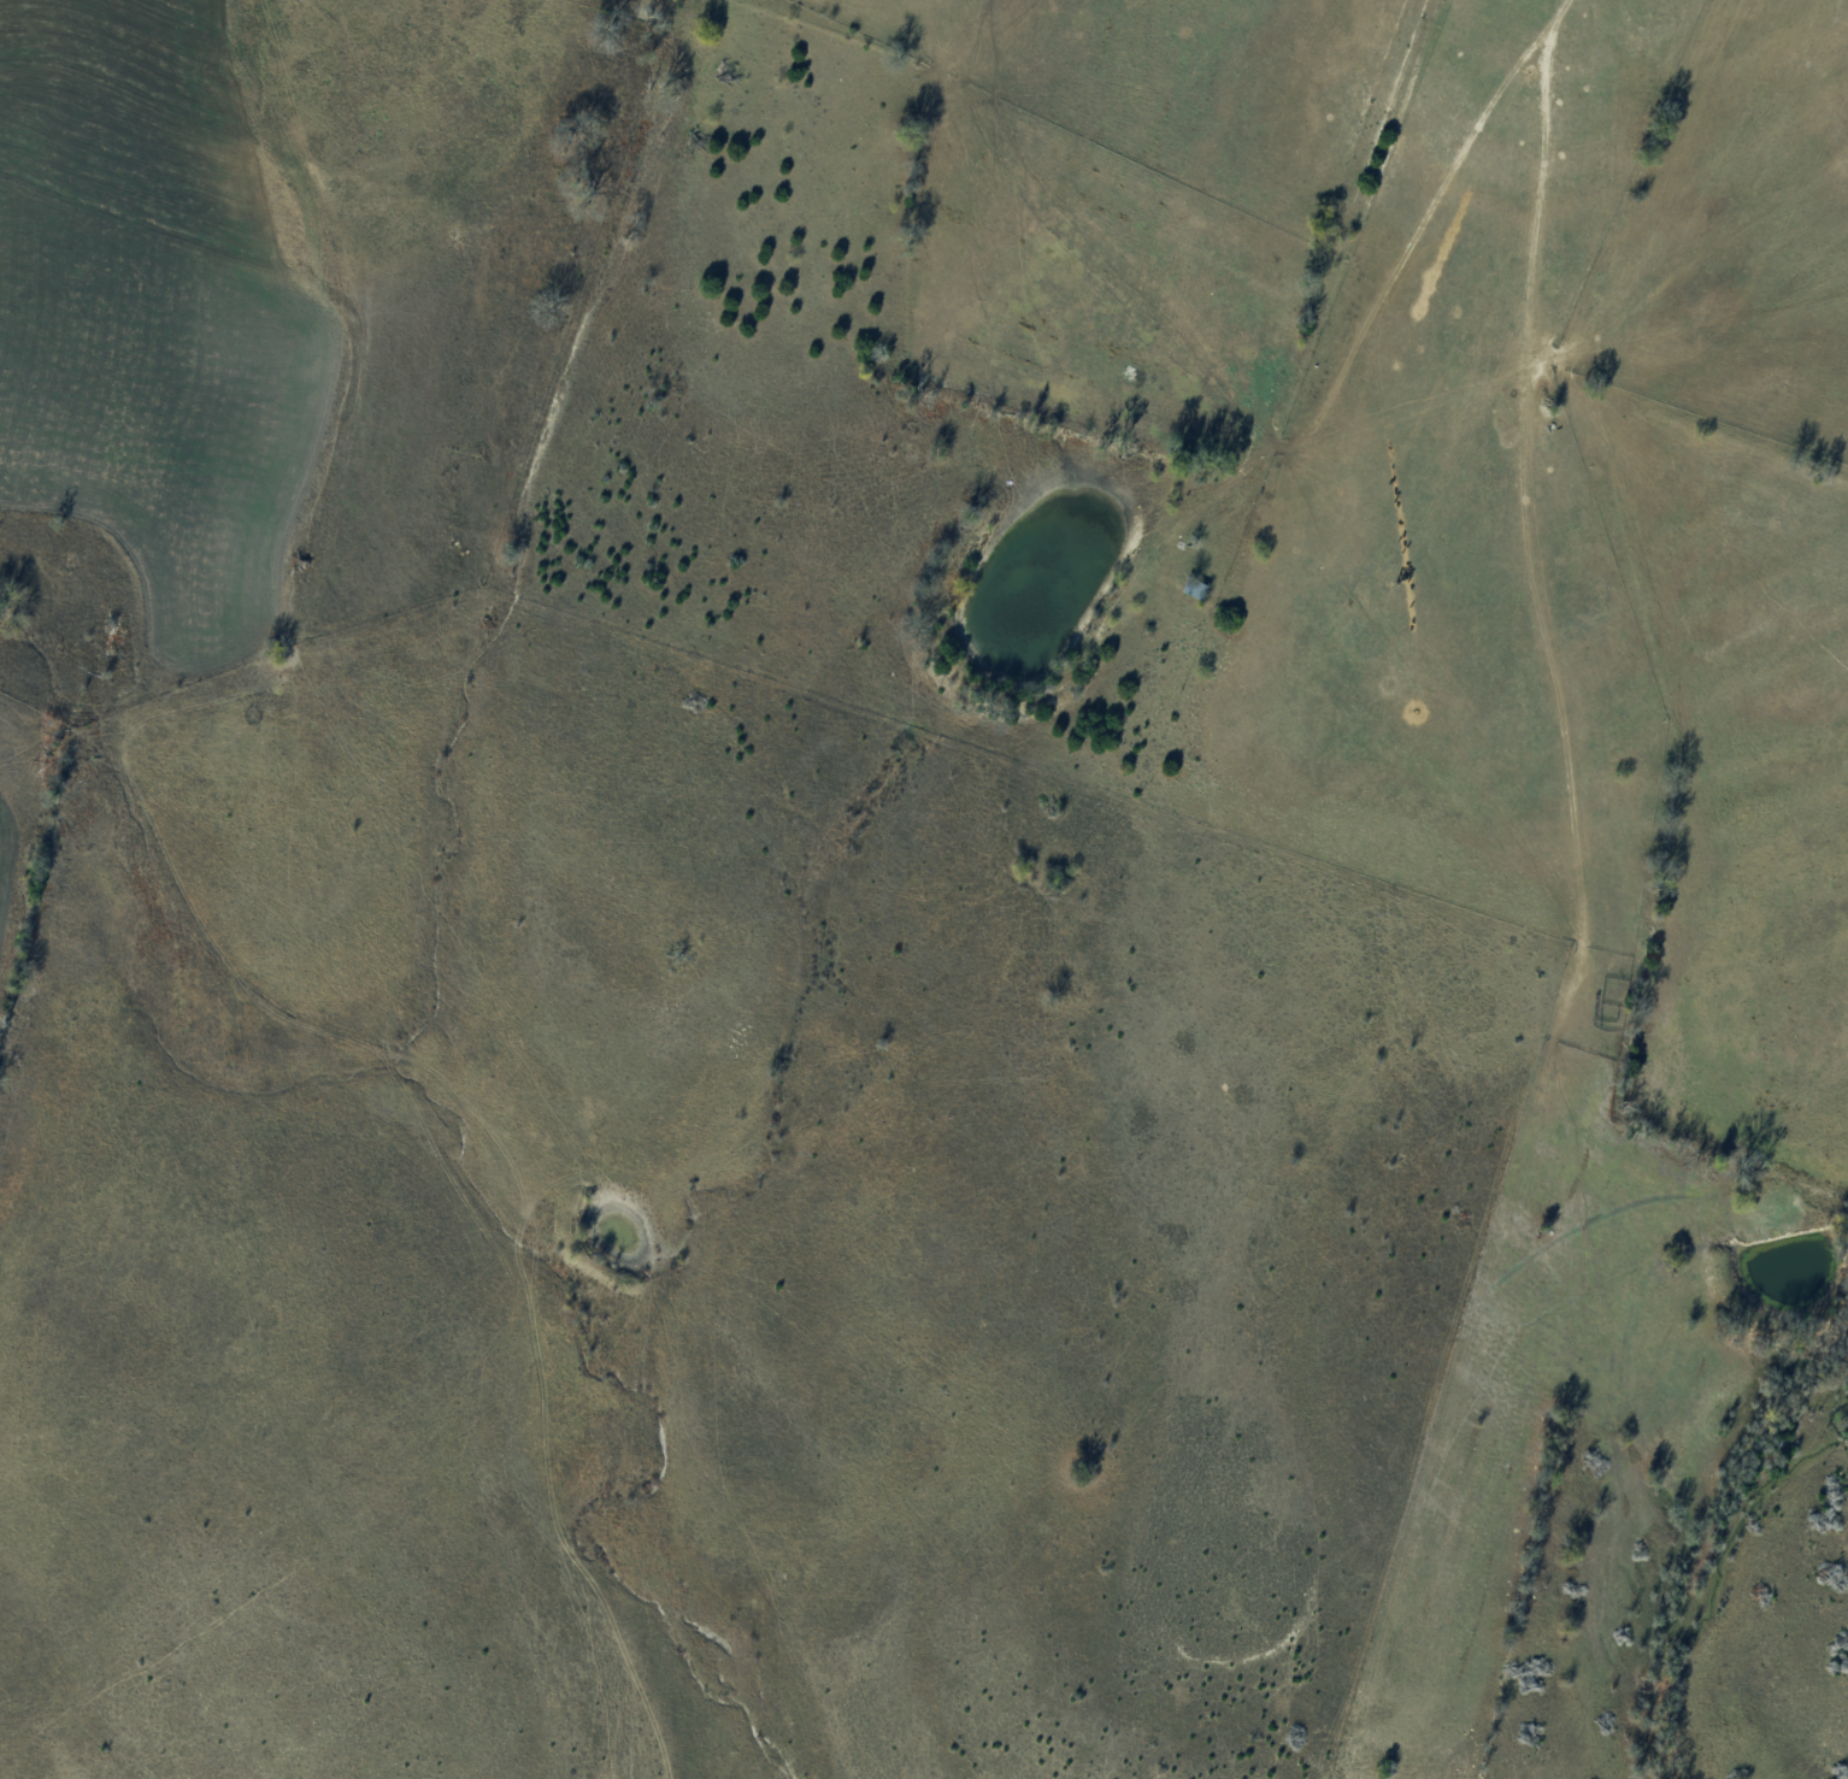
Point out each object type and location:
road: (1812, 12)
road: (1714, 476)
building: (1195, 588)
road: (1578, 658)

